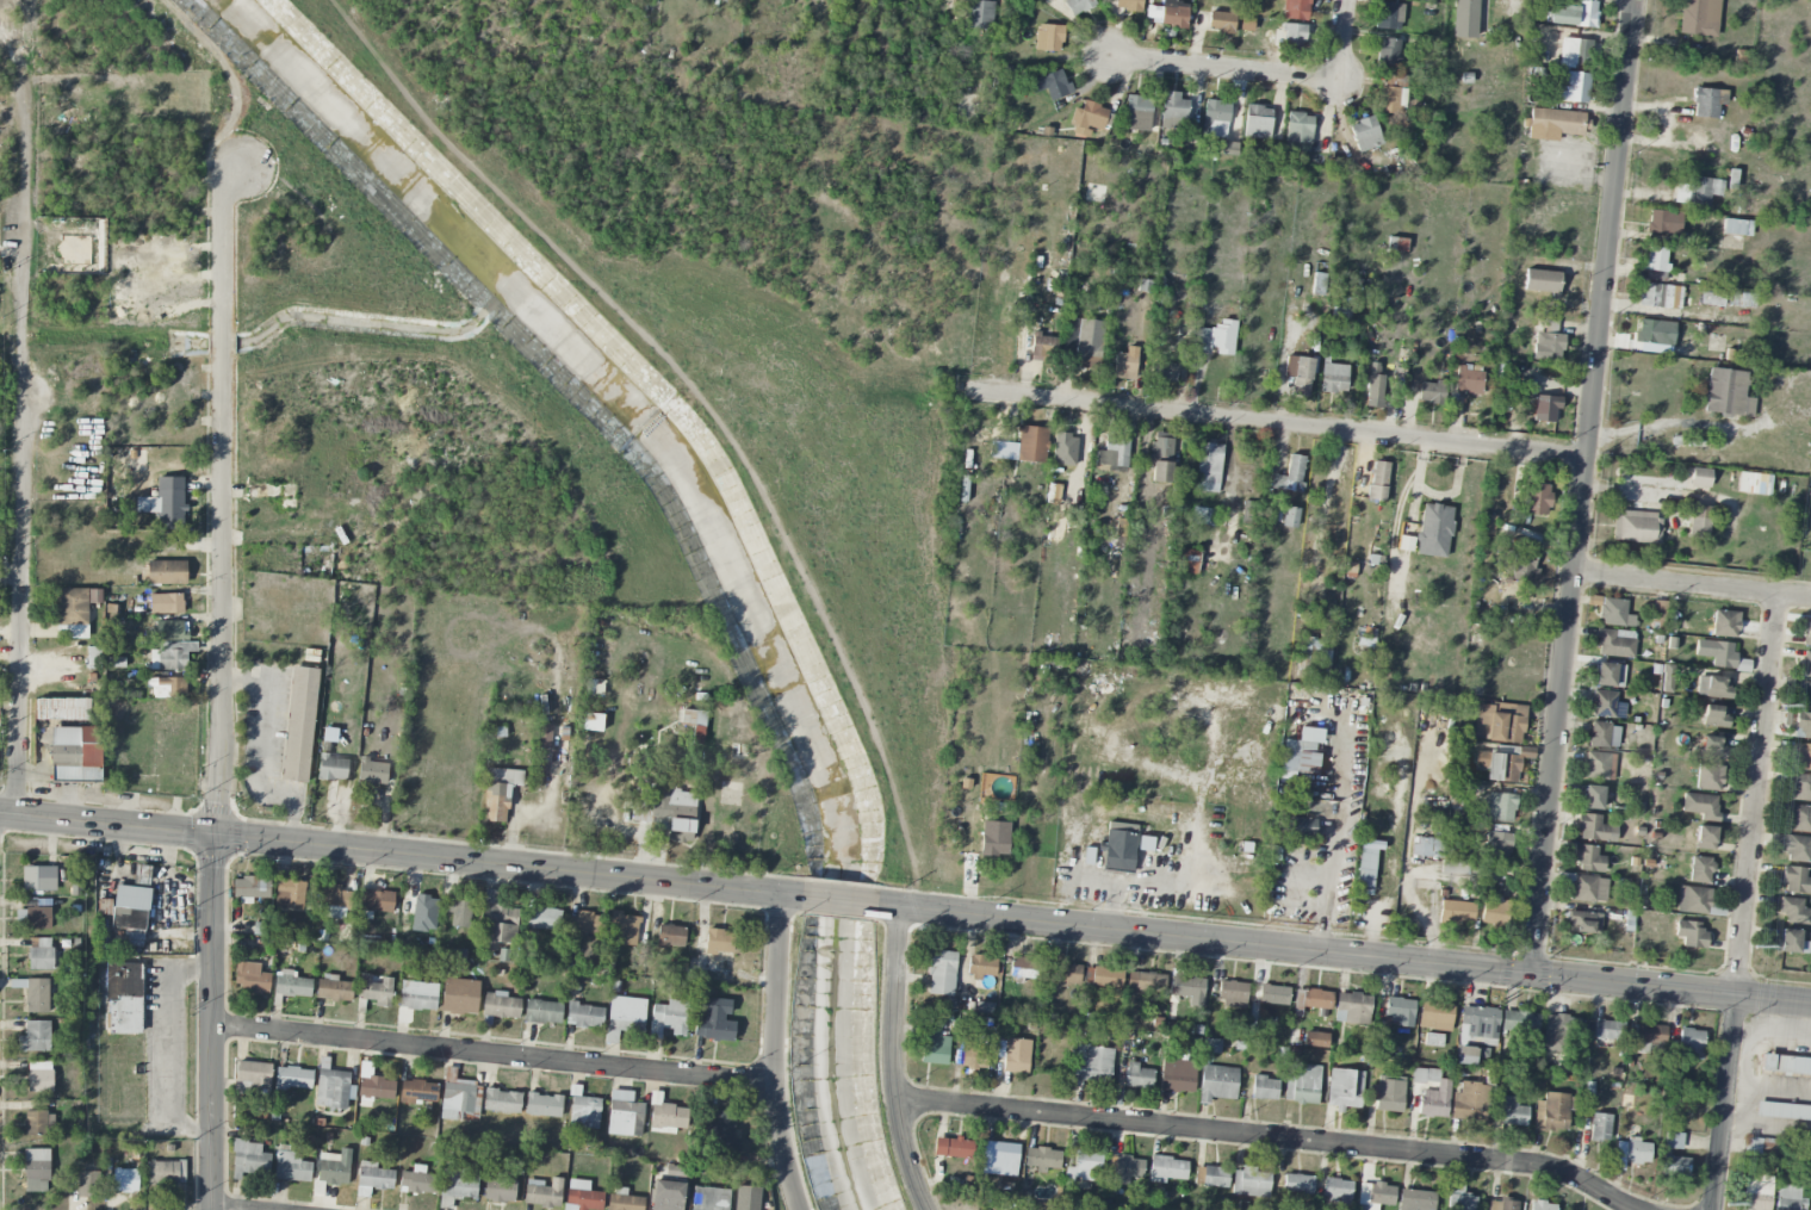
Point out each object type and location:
building: (1128, 5)
building: (1078, 6)
building: (1296, 10)
building: (1168, 13)
building: (980, 14)
building: (1571, 14)
building: (1389, 15)
building: (1699, 17)
building: (1464, 18)
building: (1221, 21)
building: (1294, 36)
building: (1048, 37)
road: (1345, 42)
building: (1388, 51)
building: (1575, 52)
road: (1227, 70)
building: (1052, 85)
building: (1571, 87)
building: (1393, 95)
building: (1707, 103)
building: (1174, 110)
building: (1137, 113)
building: (1089, 117)
building: (1216, 118)
building: (1257, 122)
building: (1553, 124)
building: (1298, 131)
building: (1365, 134)
building: (1703, 191)
building: (1664, 222)
building: (1737, 228)
building: (1656, 263)
building: (1542, 281)
building: (1661, 296)
building: (1742, 299)
building: (1655, 333)
building: (1217, 339)
building: (1548, 343)
building: (1087, 345)
building: (1043, 347)
building: (1125, 364)
building: (1165, 372)
building: (1300, 374)
building: (1334, 378)
building: (1469, 379)
building: (1375, 383)
building: (1432, 392)
building: (1728, 393)
building: (1545, 408)
road: (1276, 424)
road: (1656, 426)
road: (21, 434)
building: (1032, 443)
power tower: (1809, 443)
building: (1114, 452)
building: (1161, 458)
building: (1209, 467)
building: (1289, 476)
building: (1700, 477)
building: (1378, 480)
building: (1754, 483)
road: (1583, 486)
road: (222, 494)
building: (1538, 498)
building: (168, 502)
building: (1252, 513)
building: (1203, 516)
building: (1290, 516)
building: (1700, 521)
building: (1487, 525)
building: (1636, 527)
building: (1434, 530)
building: (1186, 561)
building: (1522, 565)
building: (167, 572)
road: (1692, 585)
building: (166, 603)
building: (75, 612)
building: (1615, 613)
building: (1658, 613)
building: (1725, 623)
building: (172, 629)
building: (1807, 634)
building: (1615, 643)
building: (1720, 654)
building: (169, 656)
building: (1315, 656)
building: (1806, 665)
building: (1610, 675)
building: (1667, 680)
building: (1714, 684)
building: (167, 688)
building: (1803, 695)
power tower: (1781, 703)
building: (1606, 705)
building: (62, 708)
building: (1714, 715)
building: (1501, 721)
building: (591, 722)
building: (695, 724)
building: (299, 725)
building: (1801, 725)
building: (544, 736)
building: (1604, 736)
road: (263, 747)
building: (1713, 747)
building: (75, 753)
building: (1300, 753)
building: (1803, 756)
building: (1599, 765)
building: (1499, 767)
building: (333, 768)
building: (372, 772)
building: (1710, 777)
building: (1800, 787)
building: (500, 793)
road: (1756, 794)
building: (1593, 798)
building: (672, 803)
building: (1701, 805)
building: (1500, 807)
building: (1800, 819)
road: (106, 823)
building: (1303, 829)
building: (1593, 829)
building: (681, 831)
traffic signals: (213, 833)
building: (994, 838)
building: (1705, 838)
building: (1120, 846)
building: (1427, 848)
building: (1798, 849)
building: (1497, 850)
building: (1588, 858)
building: (1367, 862)
road: (507, 864)
building: (1455, 868)
building: (1700, 869)
building: (142, 875)
building: (39, 877)
road: (1331, 877)
building: (1797, 881)
building: (250, 888)
building: (1589, 888)
building: (290, 894)
building: (334, 898)
road: (839, 899)
building: (1694, 900)
building: (377, 901)
building: (130, 911)
building: (458, 911)
building: (1494, 911)
building: (1456, 912)
building: (1794, 912)
building: (33, 918)
building: (545, 918)
building: (588, 923)
building: (1584, 923)
building: (501, 924)
building: (627, 930)
building: (1691, 933)
building: (670, 937)
building: (719, 941)
building: (1791, 942)
power tower: (1755, 944)
road: (1344, 953)
building: (41, 954)
building: (981, 967)
building: (1023, 968)
building: (941, 973)
traffic signals: (1530, 973)
building: (1065, 974)
building: (1103, 976)
building: (250, 979)
building: (1146, 982)
building: (291, 985)
building: (1186, 986)
building: (334, 988)
building: (1233, 993)
building: (417, 994)
building: (1273, 994)
building: (37, 995)
building: (459, 995)
building: (122, 998)
building: (1315, 999)
building: (500, 1005)
building: (1352, 1009)
building: (1398, 1011)
building: (542, 1012)
building: (584, 1016)
building: (625, 1016)
building: (1435, 1016)
building: (669, 1018)
road: (211, 1020)
building: (714, 1022)
building: (1519, 1022)
building: (1480, 1024)
building: (1607, 1030)
building: (1558, 1031)
building: (35, 1037)
building: (1315, 1040)
building: (1433, 1040)
building: (1691, 1043)
building: (934, 1047)
road: (172, 1049)
road: (776, 1053)
road: (494, 1055)
building: (1013, 1055)
building: (1465, 1055)
building: (974, 1057)
road: (892, 1060)
building: (1093, 1065)
building: (1786, 1065)
building: (1177, 1075)
building: (39, 1076)
building: (1137, 1076)
building: (293, 1078)
building: (1217, 1084)
building: (1302, 1084)
building: (376, 1087)
building: (1265, 1088)
building: (334, 1090)
building: (1345, 1090)
building: (417, 1092)
building: (1388, 1093)
building: (1432, 1093)
building: (502, 1102)
road: (1724, 1102)
building: (1470, 1103)
building: (542, 1105)
building: (1511, 1111)
building: (1784, 1111)
building: (1552, 1112)
building: (624, 1115)
building: (666, 1116)
building: (39, 1123)
building: (1600, 1127)
building: (722, 1129)
road: (1267, 1137)
building: (1673, 1141)
building: (953, 1148)
building: (1630, 1154)
building: (248, 1159)
building: (1000, 1159)
building: (1043, 1159)
building: (291, 1165)
building: (1676, 1166)
building: (1084, 1167)
building: (334, 1168)
building: (1123, 1169)
building: (1167, 1169)
building: (36, 1171)
building: (166, 1172)
building: (1215, 1177)
building: (373, 1178)
building: (125, 1180)
building: (417, 1181)
building: (1249, 1183)
building: (88, 1184)
building: (1297, 1184)
building: (457, 1185)
building: (500, 1190)
building: (1336, 1192)
building: (542, 1193)
building: (1756, 1193)
building: (581, 1196)
building: (666, 1196)
building: (1375, 1196)
building: (1459, 1197)
building: (709, 1198)
building: (1788, 1198)
building: (1415, 1199)
building: (624, 1200)
building: (1502, 1204)
power tower: (1729, 1204)
building: (1810, 1204)
building: (1542, 1205)

